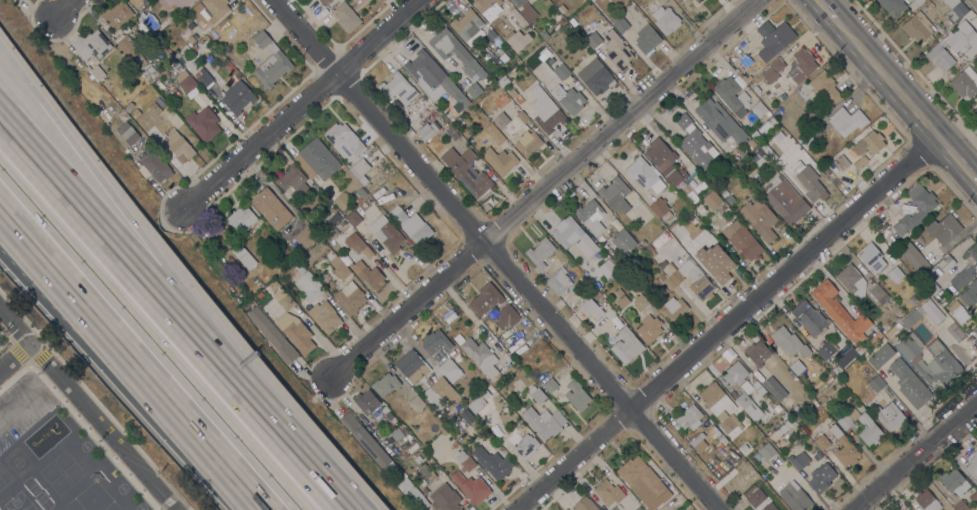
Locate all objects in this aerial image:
building: (15, 0)
building: (691, 0)
building: (697, 0)
building: (381, 1)
building: (694, 1)
building: (326, 2)
road: (973, 3)
building: (914, 4)
building: (174, 5)
building: (892, 6)
building: (488, 7)
road: (70, 8)
building: (562, 8)
building: (214, 9)
building: (525, 9)
building: (955, 9)
road: (822, 10)
building: (116, 15)
building: (346, 17)
building: (148, 20)
building: (515, 20)
building: (666, 20)
building: (561, 21)
building: (619, 23)
building: (948, 23)
building: (467, 25)
building: (918, 27)
building: (544, 34)
building: (775, 35)
building: (647, 39)
building: (516, 40)
building: (593, 40)
building: (190, 41)
building: (498, 42)
building: (92, 44)
building: (953, 46)
building: (211, 47)
building: (194, 49)
building: (617, 50)
building: (455, 52)
building: (500, 52)
building: (545, 52)
building: (137, 57)
building: (210, 59)
building: (270, 60)
building: (746, 60)
building: (803, 64)
building: (773, 69)
building: (562, 72)
building: (166, 74)
building: (596, 76)
building: (203, 77)
building: (745, 77)
building: (433, 78)
building: (186, 81)
building: (503, 81)
road: (883, 81)
building: (965, 83)
building: (825, 87)
building: (172, 88)
building: (398, 88)
building: (474, 90)
building: (513, 93)
building: (730, 93)
building: (237, 97)
building: (566, 97)
building: (780, 98)
building: (519, 99)
road: (299, 102)
building: (122, 104)
building: (129, 107)
building: (759, 110)
building: (975, 110)
building: (547, 113)
building: (522, 117)
building: (501, 120)
building: (719, 121)
building: (203, 123)
building: (773, 123)
building: (848, 123)
building: (152, 129)
building: (428, 129)
building: (127, 132)
building: (495, 134)
building: (754, 136)
building: (344, 141)
building: (805, 141)
building: (528, 143)
building: (695, 143)
building: (751, 143)
building: (869, 144)
building: (179, 148)
building: (756, 154)
building: (316, 159)
building: (500, 160)
building: (664, 160)
building: (860, 162)
building: (842, 163)
road: (956, 164)
building: (156, 165)
building: (361, 170)
building: (467, 170)
building: (644, 175)
building: (293, 180)
building: (713, 180)
building: (354, 181)
building: (809, 182)
road: (547, 187)
building: (690, 193)
building: (725, 194)
building: (619, 197)
building: (729, 199)
building: (785, 199)
building: (342, 200)
building: (712, 200)
building: (925, 207)
building: (271, 208)
building: (660, 208)
road: (171, 216)
building: (591, 216)
road: (125, 218)
building: (354, 218)
building: (759, 218)
building: (242, 219)
building: (333, 219)
building: (412, 225)
building: (944, 229)
building: (322, 230)
building: (388, 235)
building: (573, 236)
building: (305, 237)
building: (601, 238)
building: (661, 239)
building: (623, 240)
building: (743, 240)
building: (228, 242)
building: (643, 243)
building: (358, 245)
building: (285, 250)
building: (649, 250)
building: (540, 253)
road: (122, 254)
road: (497, 254)
building: (243, 256)
building: (872, 258)
building: (915, 258)
building: (715, 262)
building: (339, 267)
building: (607, 268)
building: (966, 268)
building: (895, 274)
building: (936, 274)
building: (369, 275)
building: (676, 278)
building: (666, 281)
building: (852, 281)
building: (559, 282)
building: (273, 284)
building: (307, 284)
building: (596, 284)
road: (58, 290)
building: (876, 291)
building: (968, 293)
building: (350, 297)
building: (283, 298)
building: (621, 298)
building: (639, 301)
building: (912, 302)
building: (493, 306)
building: (591, 308)
building: (674, 309)
building: (932, 311)
building: (958, 311)
building: (840, 312)
building: (325, 316)
building: (809, 318)
building: (911, 318)
road: (727, 325)
building: (897, 327)
building: (649, 328)
building: (295, 332)
building: (892, 332)
building: (955, 333)
building: (272, 335)
building: (875, 337)
road: (35, 338)
building: (435, 342)
building: (789, 342)
building: (627, 346)
building: (860, 348)
building: (906, 348)
building: (827, 350)
building: (757, 353)
building: (479, 354)
building: (880, 355)
road: (14, 357)
building: (843, 360)
road: (130, 361)
building: (939, 364)
building: (412, 366)
building: (797, 367)
building: (450, 370)
building: (735, 373)
building: (909, 383)
building: (386, 384)
building: (756, 384)
building: (876, 384)
building: (550, 385)
building: (746, 387)
building: (774, 388)
building: (489, 390)
building: (815, 390)
building: (536, 394)
building: (441, 395)
building: (484, 395)
building: (577, 395)
building: (366, 401)
building: (416, 403)
building: (746, 403)
building: (826, 404)
building: (482, 406)
building: (721, 409)
road: (86, 411)
building: (790, 411)
building: (388, 415)
building: (466, 415)
building: (890, 416)
building: (689, 417)
building: (797, 417)
building: (457, 419)
building: (544, 421)
building: (844, 422)
building: (783, 428)
building: (868, 430)
building: (715, 431)
building: (396, 434)
building: (498, 435)
building: (365, 440)
building: (523, 443)
building: (698, 443)
building: (455, 444)
building: (848, 447)
building: (744, 449)
road: (296, 451)
building: (767, 451)
building: (818, 455)
road: (915, 456)
building: (418, 459)
building: (799, 460)
building: (465, 461)
building: (492, 462)
building: (973, 465)
building: (427, 472)
building: (397, 473)
building: (746, 476)
building: (821, 478)
building: (642, 482)
building: (955, 482)
building: (421, 483)
building: (471, 487)
building: (425, 491)
building: (608, 492)
building: (412, 493)
building: (754, 495)
building: (794, 497)
building: (973, 497)
building: (445, 498)
building: (927, 501)
building: (585, 504)
building: (961, 505)
building: (769, 507)
building: (614, 508)
building: (638, 508)
building: (908, 509)

